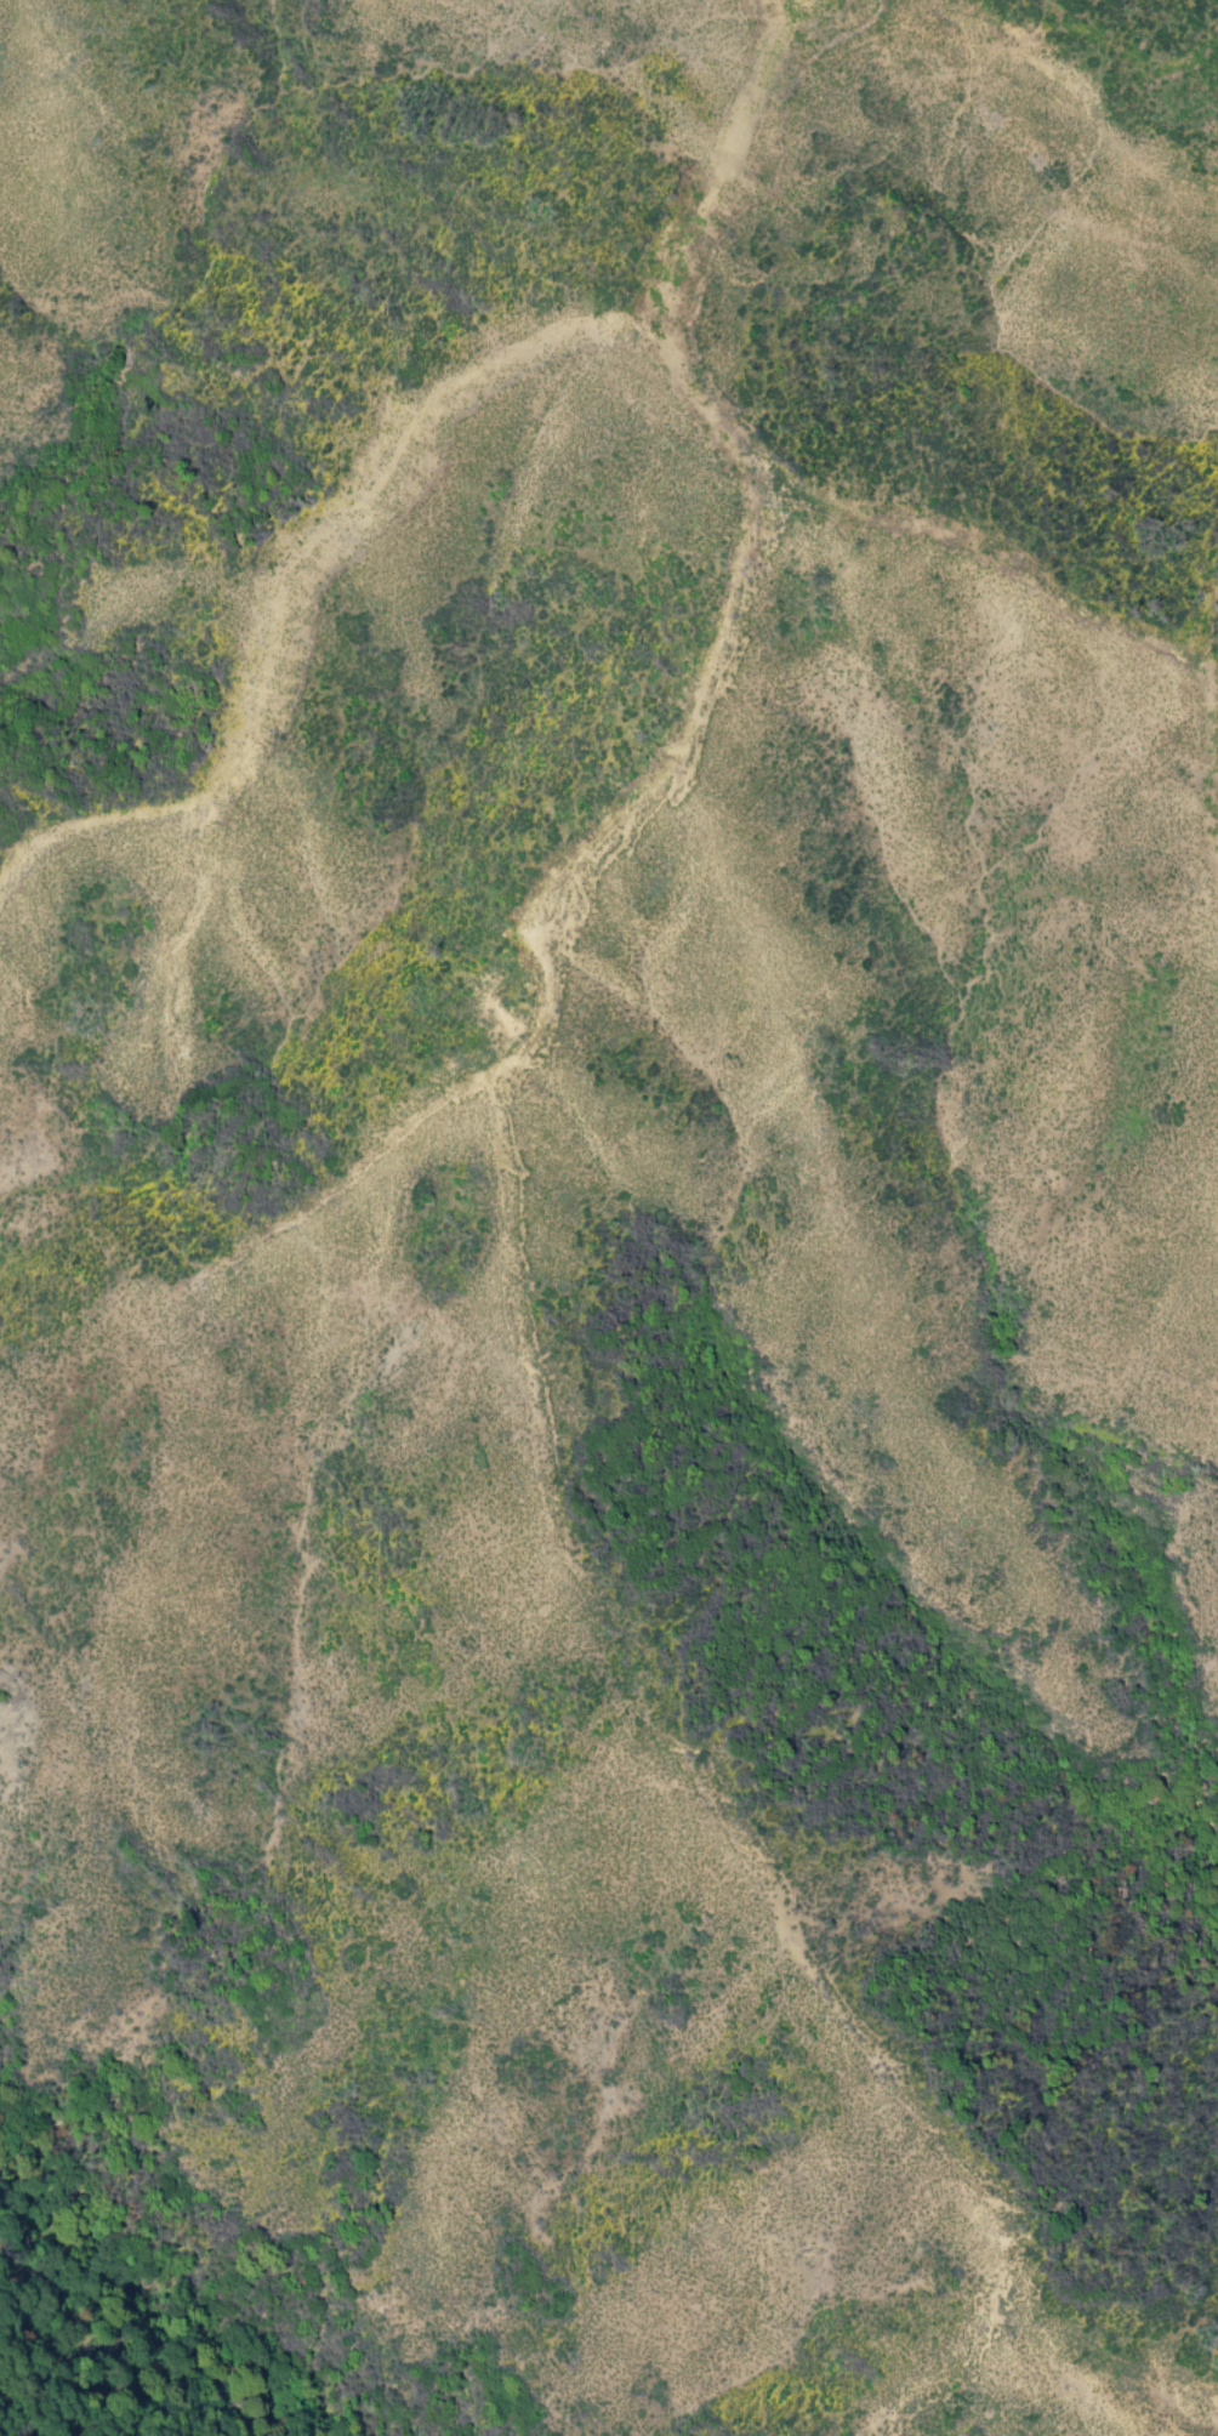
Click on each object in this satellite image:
road: (797, 8)

